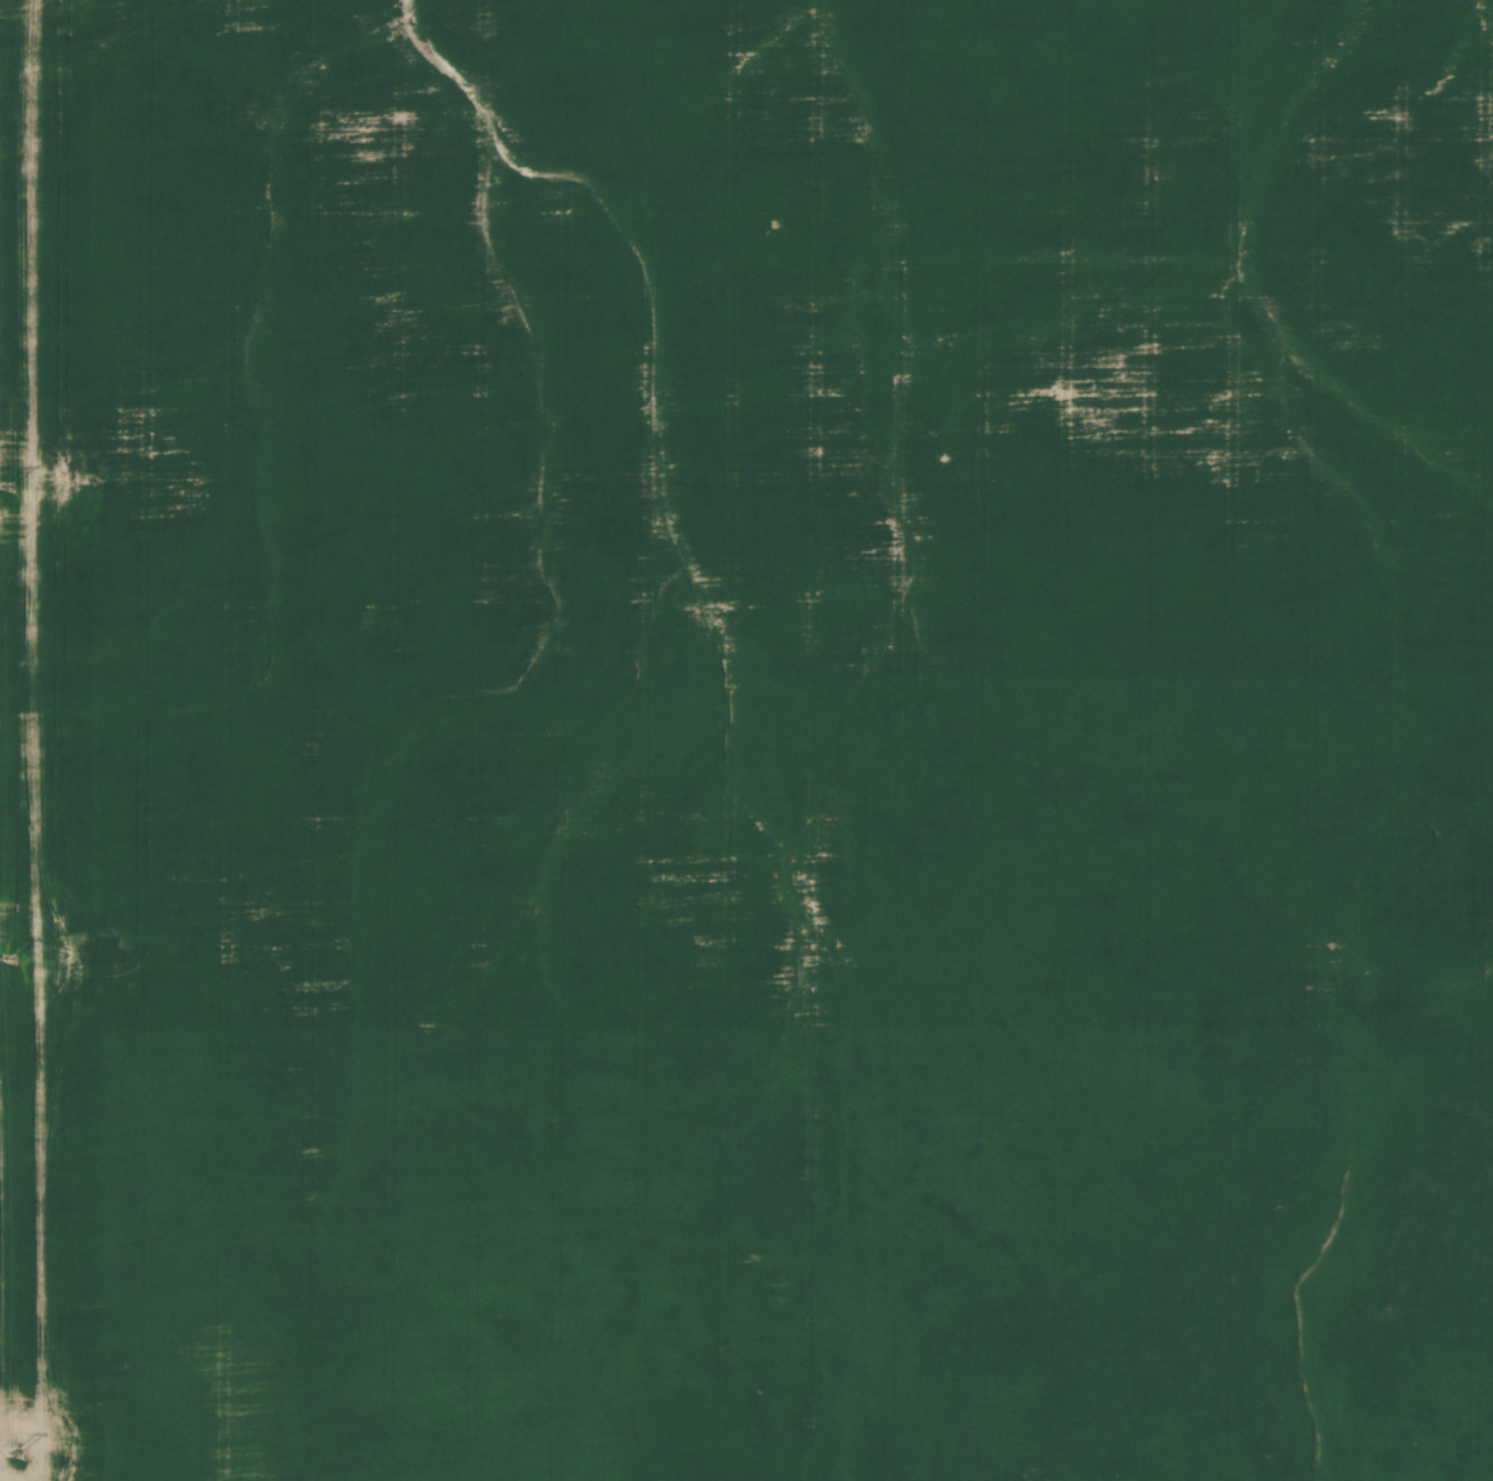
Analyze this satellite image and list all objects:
power tower: (4, 487)
power tower: (7, 960)
power tower: (13, 1455)

